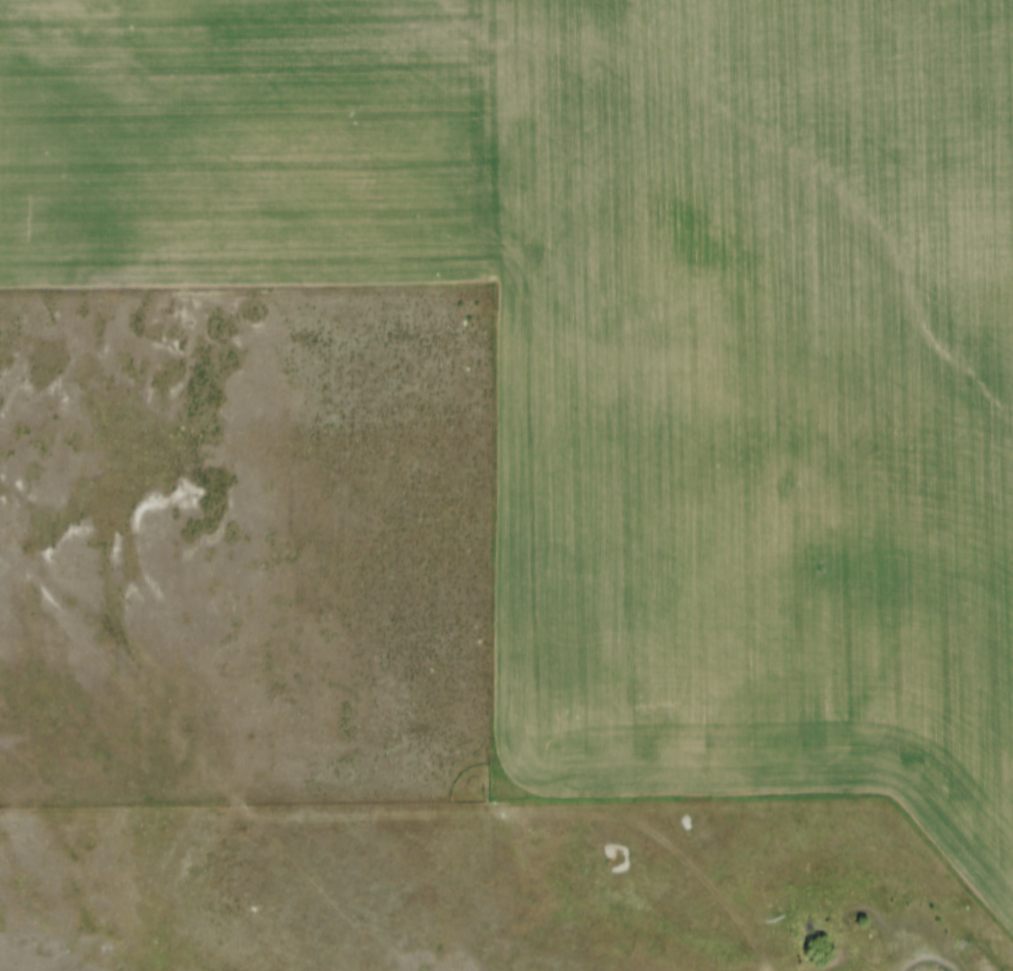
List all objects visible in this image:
road: (654, 831)

